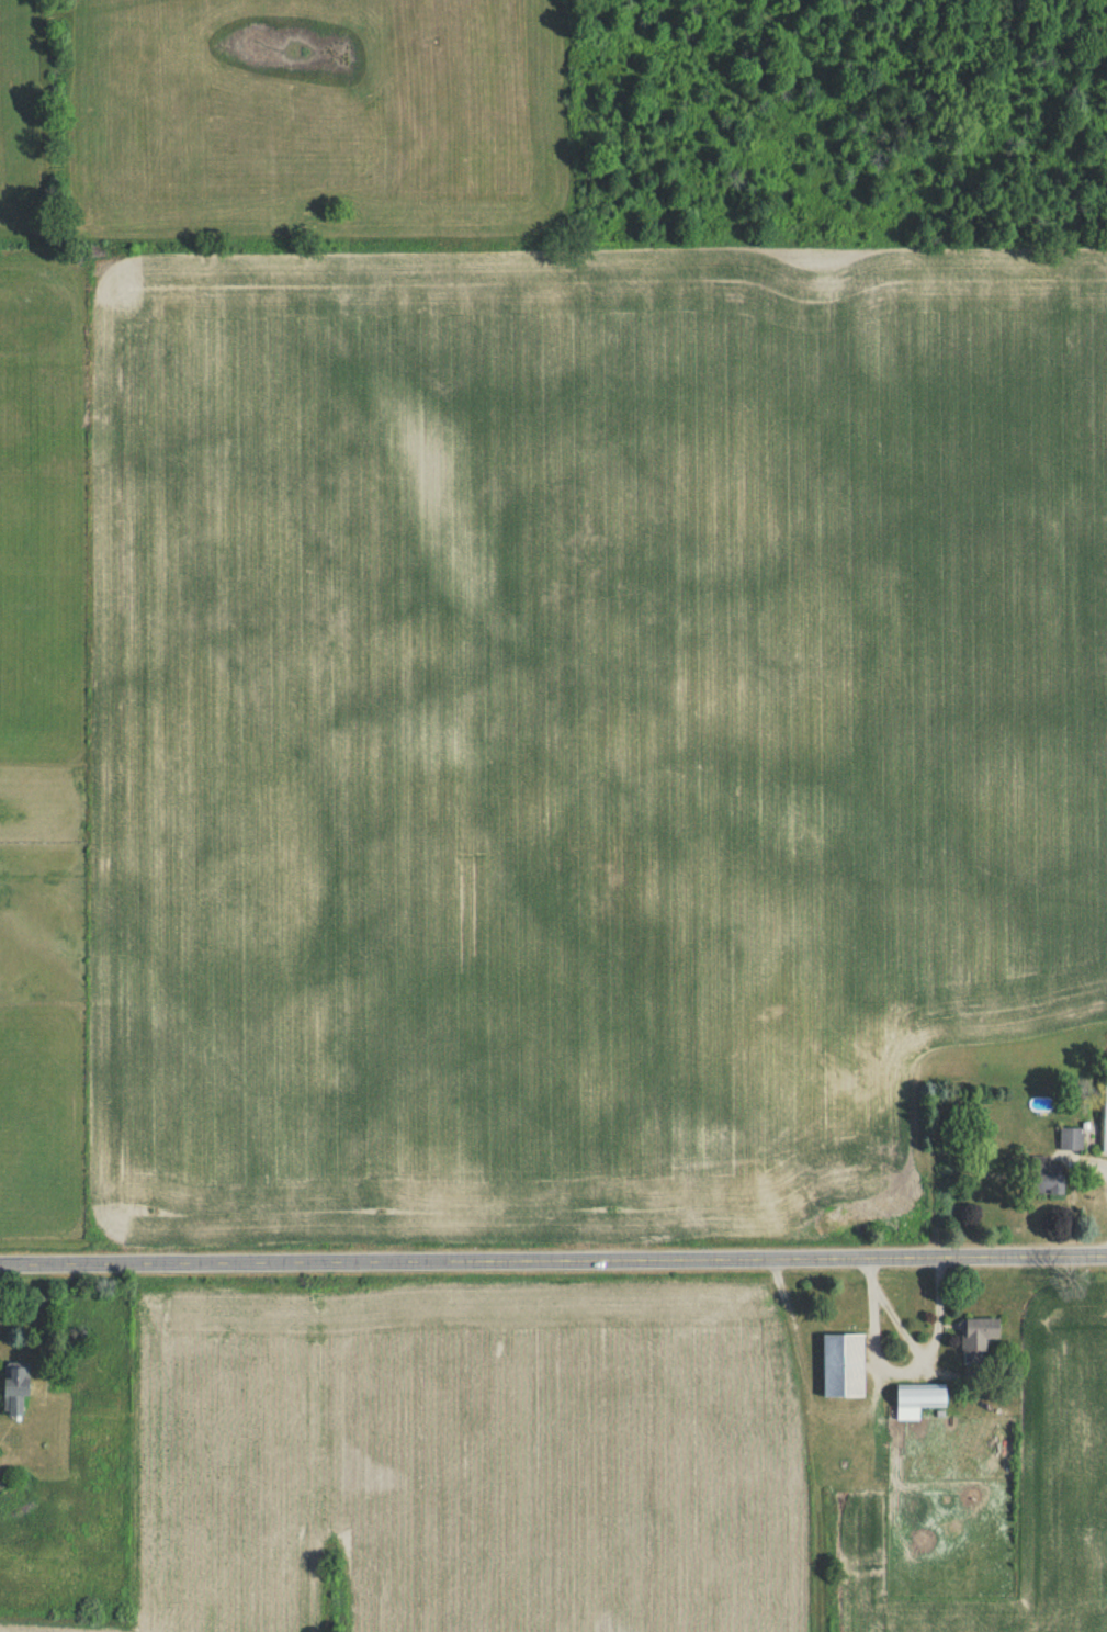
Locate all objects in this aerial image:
building: (1103, 1117)
building: (1069, 1143)
building: (1041, 1181)
road: (553, 1264)
building: (974, 1339)
building: (837, 1370)
road: (903, 1374)
building: (12, 1394)
building: (914, 1403)

